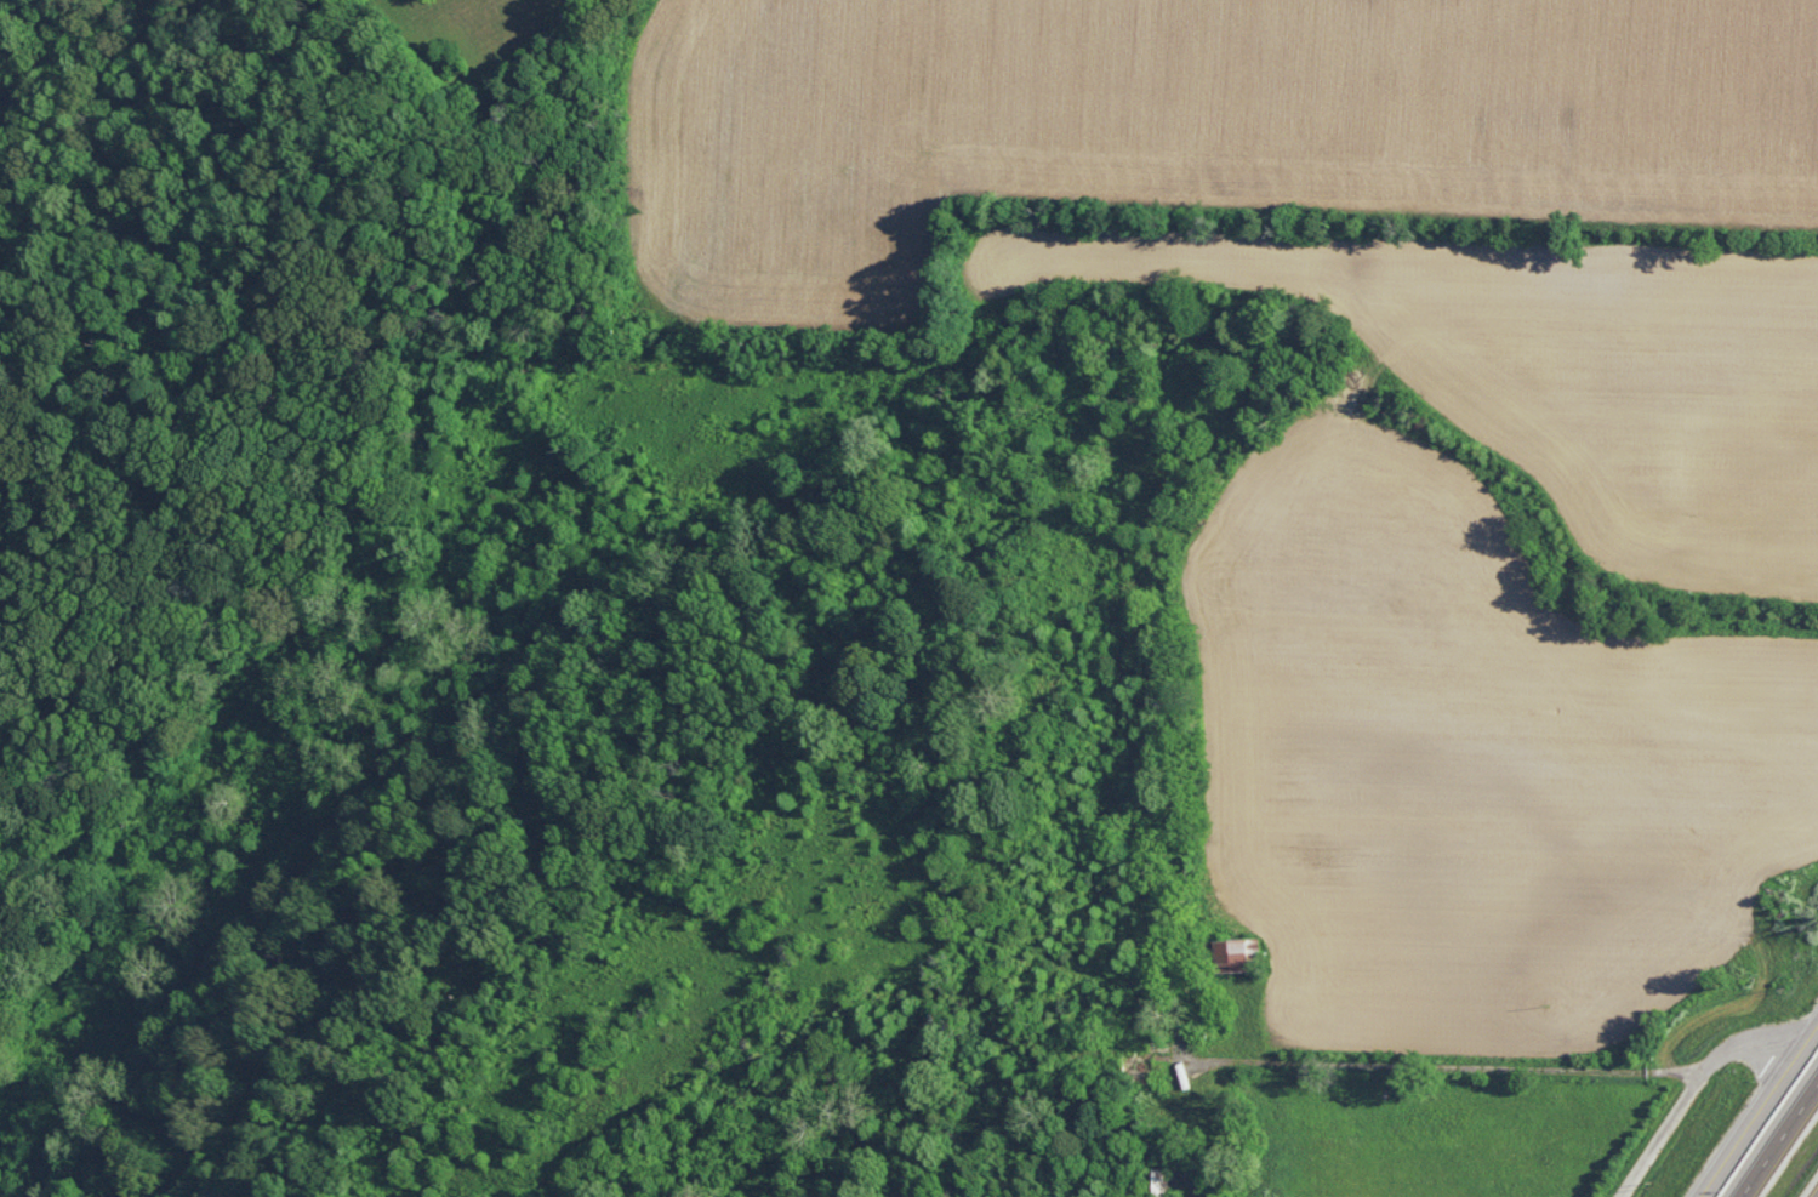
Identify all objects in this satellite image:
road: (1458, 1065)
road: (1703, 1090)
road: (1760, 1111)
road: (1785, 1148)

